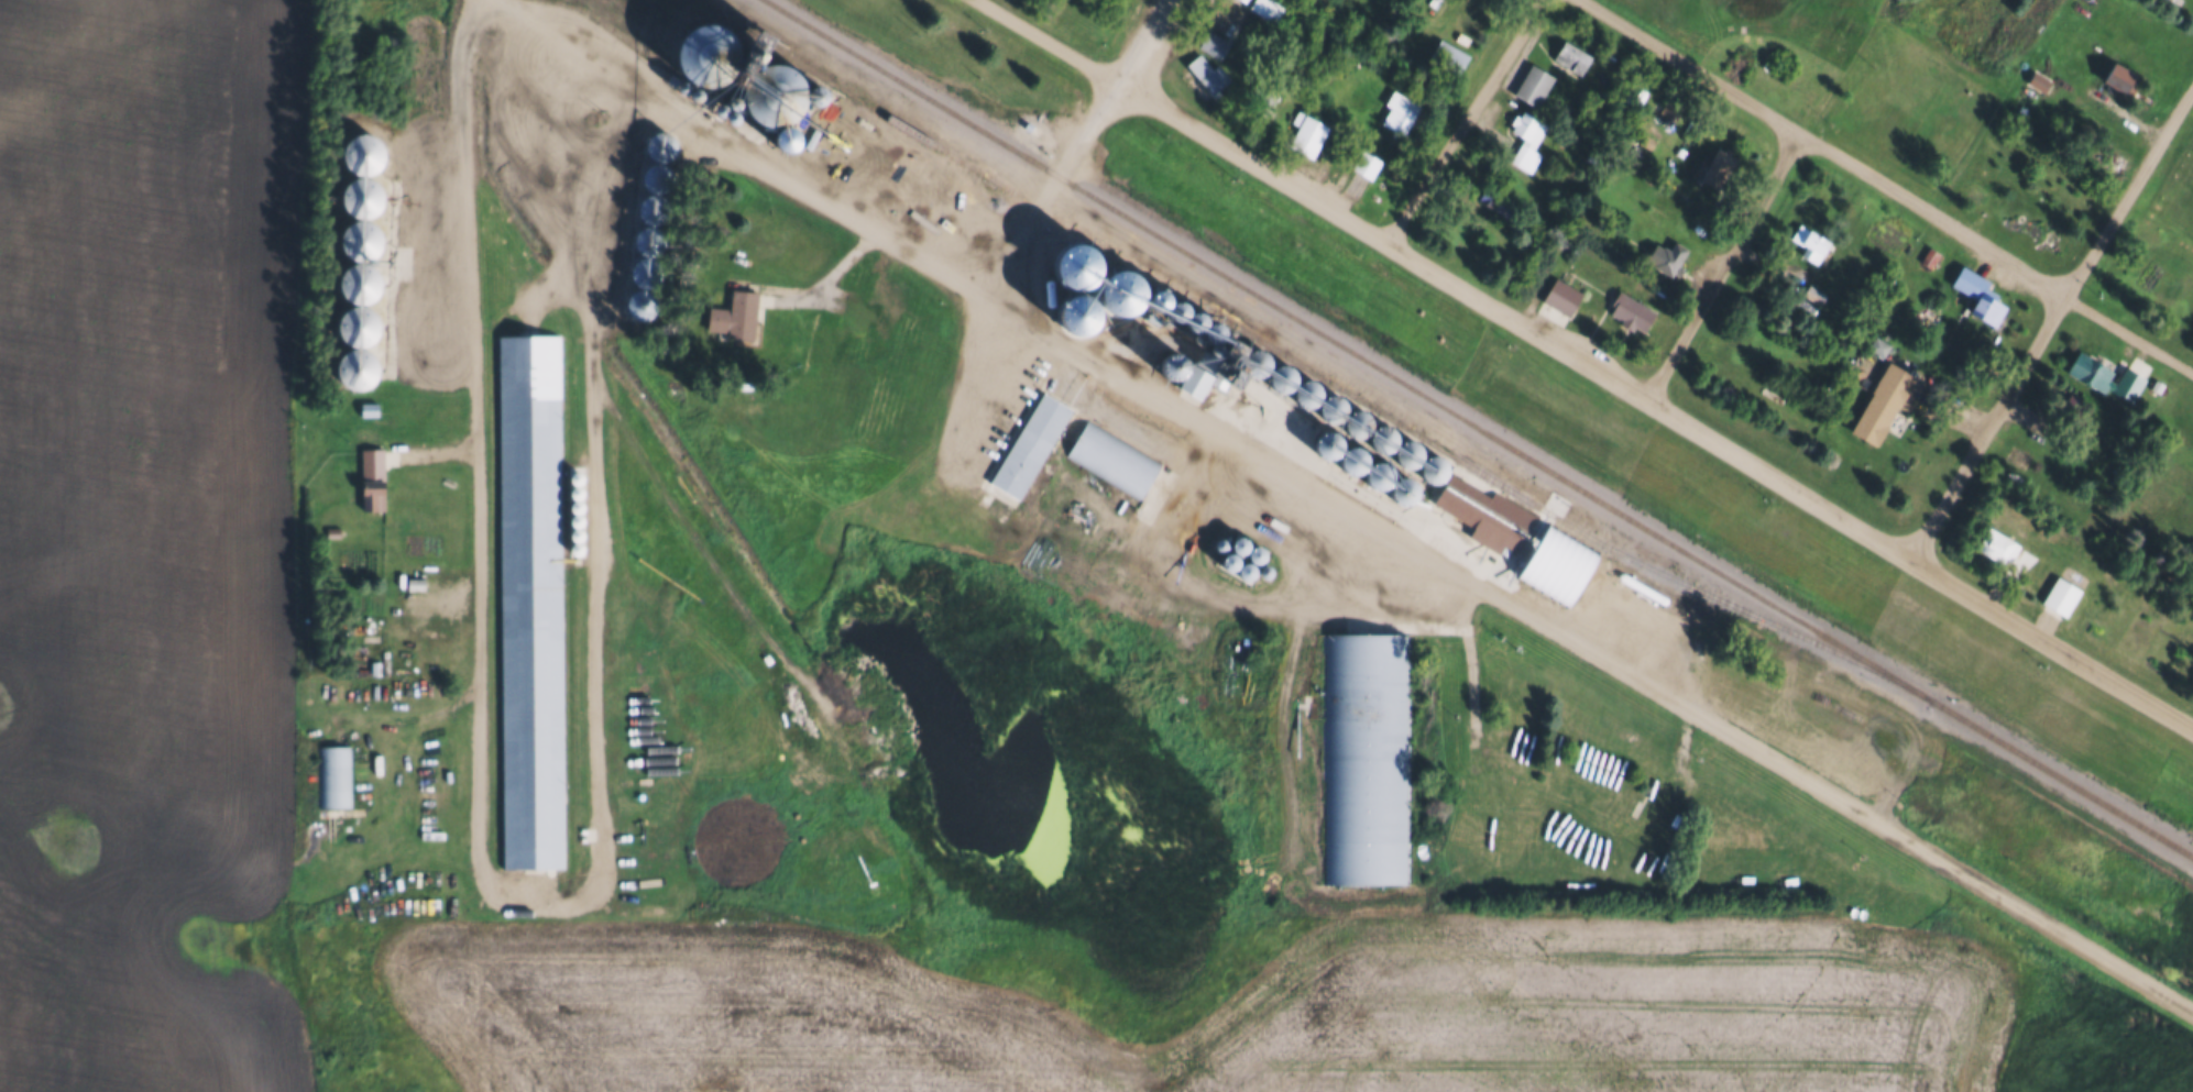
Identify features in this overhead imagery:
building: (1241, 0)
building: (1264, 8)
building: (753, 40)
building: (1210, 41)
building: (1446, 53)
building: (698, 54)
silo: (698, 54)
building: (1570, 54)
building: (1206, 71)
building: (2114, 75)
building: (2037, 79)
building: (1532, 84)
building: (1633, 92)
building: (768, 97)
silo: (768, 97)
building: (813, 98)
silo: (813, 98)
building: (1264, 100)
building: (717, 101)
silo: (717, 101)
building: (1397, 111)
building: (727, 112)
silo: (727, 112)
road: (1462, 120)
building: (1305, 133)
building: (1524, 137)
building: (1645, 139)
building: (838, 142)
silo: (838, 142)
building: (783, 143)
silo: (783, 143)
building: (662, 145)
silo: (662, 145)
road: (1073, 147)
building: (364, 153)
silo: (364, 153)
building: (2109, 157)
building: (1718, 159)
building: (1366, 163)
building: (658, 176)
silo: (658, 176)
road: (1885, 187)
building: (363, 196)
silo: (363, 196)
building: (1493, 198)
building: (655, 208)
silo: (655, 208)
road: (613, 218)
building: (362, 239)
silo: (362, 239)
building: (650, 240)
silo: (650, 240)
building: (1808, 242)
building: (1929, 255)
building: (1665, 256)
road: (1719, 262)
building: (647, 272)
silo: (647, 272)
building: (361, 282)
silo: (361, 282)
road: (405, 284)
building: (1813, 291)
building: (1561, 294)
building: (1975, 294)
building: (1076, 295)
silo: (1076, 295)
building: (643, 304)
silo: (643, 304)
building: (1121, 308)
silo: (1121, 308)
building: (1630, 309)
building: (1164, 310)
silo: (1164, 310)
building: (733, 315)
road: (2051, 317)
building: (1182, 320)
silo: (1182, 320)
building: (360, 324)
silo: (360, 324)
building: (1203, 334)
silo: (1203, 334)
building: (1877, 346)
road: (1586, 359)
building: (1171, 362)
silo: (1171, 362)
building: (1253, 362)
silo: (1253, 362)
railway: (1302, 365)
building: (358, 368)
silo: (358, 368)
building: (2087, 369)
building: (1218, 371)
building: (1279, 376)
silo: (1279, 376)
building: (2125, 382)
building: (1189, 385)
building: (1304, 390)
silo: (1304, 390)
building: (1878, 402)
building: (2072, 406)
building: (369, 407)
building: (1329, 407)
silo: (1329, 407)
building: (1355, 422)
silo: (1355, 422)
railway: (1478, 428)
building: (1382, 438)
silo: (1382, 438)
building: (1029, 442)
building: (1319, 443)
silo: (1319, 443)
road: (476, 446)
building: (1406, 453)
silo: (1406, 453)
building: (1114, 454)
building: (1345, 459)
silo: (1345, 459)
road: (952, 460)
building: (1430, 467)
silo: (1430, 467)
building: (577, 472)
silo: (577, 472)
building: (1371, 475)
silo: (1371, 475)
building: (371, 477)
building: (577, 486)
silo: (577, 486)
building: (1396, 489)
silo: (1396, 489)
building: (575, 500)
silo: (575, 500)
road: (1351, 504)
building: (1482, 509)
building: (575, 515)
silo: (575, 515)
building: (575, 529)
silo: (575, 529)
building: (575, 543)
silo: (575, 543)
building: (1222, 543)
silo: (1222, 543)
building: (1239, 543)
silo: (1239, 543)
building: (1994, 544)
building: (1256, 553)
silo: (1256, 553)
building: (1229, 561)
silo: (1229, 561)
building: (1555, 561)
building: (404, 567)
building: (1261, 570)
silo: (1261, 570)
building: (1246, 571)
silo: (1246, 571)
building: (415, 582)
road: (1229, 593)
building: (2058, 595)
building: (529, 599)
road: (1466, 646)
road: (404, 719)
building: (1366, 755)
building: (336, 775)

